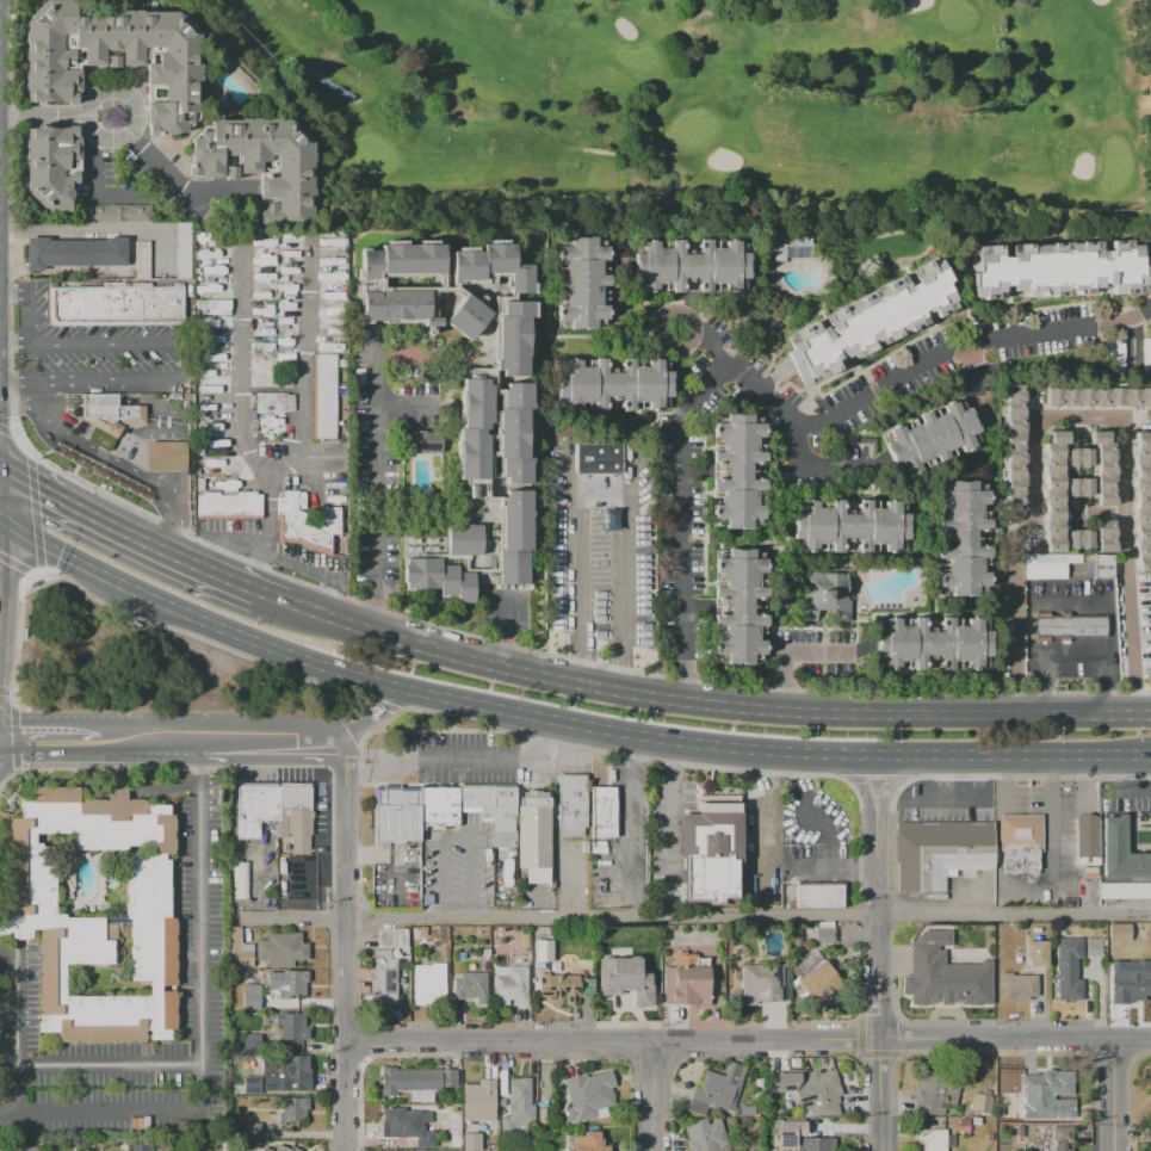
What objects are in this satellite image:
road: (707, 10)
building: (116, 58)
road: (317, 79)
park: (717, 101)
road: (142, 117)
road: (42, 118)
road: (600, 150)
building: (260, 165)
building: (51, 166)
road: (172, 177)
building: (115, 214)
road: (98, 228)
building: (788, 252)
building: (75, 253)
building: (142, 259)
building: (401, 260)
building: (688, 265)
building: (490, 266)
building: (1059, 268)
building: (580, 283)
building: (115, 305)
building: (397, 307)
building: (464, 316)
building: (870, 321)
road: (30, 333)
building: (510, 336)
road: (705, 342)
road: (16, 344)
road: (103, 344)
building: (1145, 355)
parking lot: (111, 359)
road: (303, 361)
road: (241, 363)
road: (16, 380)
road: (105, 380)
building: (613, 384)
building: (323, 396)
building: (1097, 396)
road: (771, 400)
building: (270, 402)
road: (17, 404)
road: (402, 404)
building: (109, 413)
road: (1075, 417)
building: (472, 427)
building: (513, 434)
building: (930, 437)
road: (1, 441)
building: (421, 443)
building: (1013, 445)
road: (95, 456)
building: (165, 456)
gas station: (165, 456)
building: (1078, 457)
building: (598, 458)
road: (0, 465)
traffic signals: (1, 466)
road: (818, 468)
building: (1103, 468)
building: (100, 469)
building: (738, 470)
road: (169, 484)
road: (377, 487)
building: (1078, 487)
building: (1053, 491)
road: (1, 493)
building: (1143, 500)
building: (228, 506)
road: (0, 518)
traffic signals: (1, 519)
building: (305, 524)
building: (850, 525)
road: (175, 526)
road: (125, 533)
road: (267, 533)
building: (1104, 536)
building: (514, 538)
building: (963, 538)
building: (464, 539)
building: (1079, 539)
road: (1, 551)
building: (1073, 558)
building: (1087, 558)
parking lot: (601, 559)
building: (1045, 565)
building: (1102, 565)
road: (574, 567)
building: (439, 578)
road: (272, 594)
building: (823, 596)
road: (623, 598)
building: (737, 605)
road: (198, 619)
building: (1070, 625)
road: (505, 632)
building: (932, 643)
parking lot: (816, 651)
road: (785, 652)
park: (151, 669)
road: (712, 707)
road: (378, 719)
road: (10, 736)
road: (273, 742)
road: (60, 744)
road: (150, 744)
road: (10, 750)
road: (776, 751)
road: (457, 760)
road: (203, 762)
road: (1052, 771)
road: (943, 776)
road: (977, 776)
road: (898, 779)
road: (855, 780)
road: (125, 781)
road: (1114, 792)
road: (948, 798)
building: (573, 800)
parking lot: (945, 802)
road: (667, 809)
building: (491, 811)
building: (601, 811)
building: (396, 816)
road: (629, 827)
road: (457, 834)
road: (827, 834)
building: (281, 835)
building: (534, 839)
building: (1020, 843)
building: (1087, 843)
parking lot: (1059, 844)
building: (710, 850)
building: (937, 854)
building: (1121, 855)
road: (1052, 860)
road: (830, 867)
building: (240, 879)
building: (1125, 892)
building: (818, 896)
building: (36, 916)
road: (694, 917)
building: (1119, 932)
building: (794, 934)
building: (823, 935)
building: (391, 939)
road: (341, 945)
building: (240, 948)
building: (281, 949)
building: (544, 951)
road: (10, 952)
building: (1036, 953)
building: (1072, 964)
building: (945, 974)
building: (626, 976)
building: (383, 979)
building: (687, 980)
building: (816, 982)
road: (877, 982)
building: (763, 983)
building: (1127, 983)
building: (292, 984)
building: (510, 984)
building: (429, 986)
building: (470, 986)
building: (1017, 986)
building: (563, 988)
building: (252, 996)
building: (289, 1025)
road: (745, 1039)
building: (250, 1042)
road: (192, 1065)
building: (286, 1069)
building: (416, 1079)
building: (250, 1085)
building: (1044, 1088)
building: (717, 1089)
building: (811, 1089)
building: (934, 1091)
road: (650, 1095)
building: (588, 1096)
road: (1115, 1097)
building: (478, 1100)
road: (19, 1102)
building: (982, 1102)
building: (1063, 1107)
building: (293, 1109)
building: (518, 1109)
road: (135, 1114)
building: (976, 1121)
building: (965, 1122)
building: (408, 1127)
building: (787, 1127)
building: (1020, 1130)
building: (250, 1131)
building: (705, 1137)
building: (989, 1137)
building: (1062, 1137)
building: (934, 1139)
building: (471, 1141)
building: (589, 1143)
building: (816, 1144)
building: (138, 1146)
building: (30, 1149)
building: (283, 1149)
building: (398, 1150)

